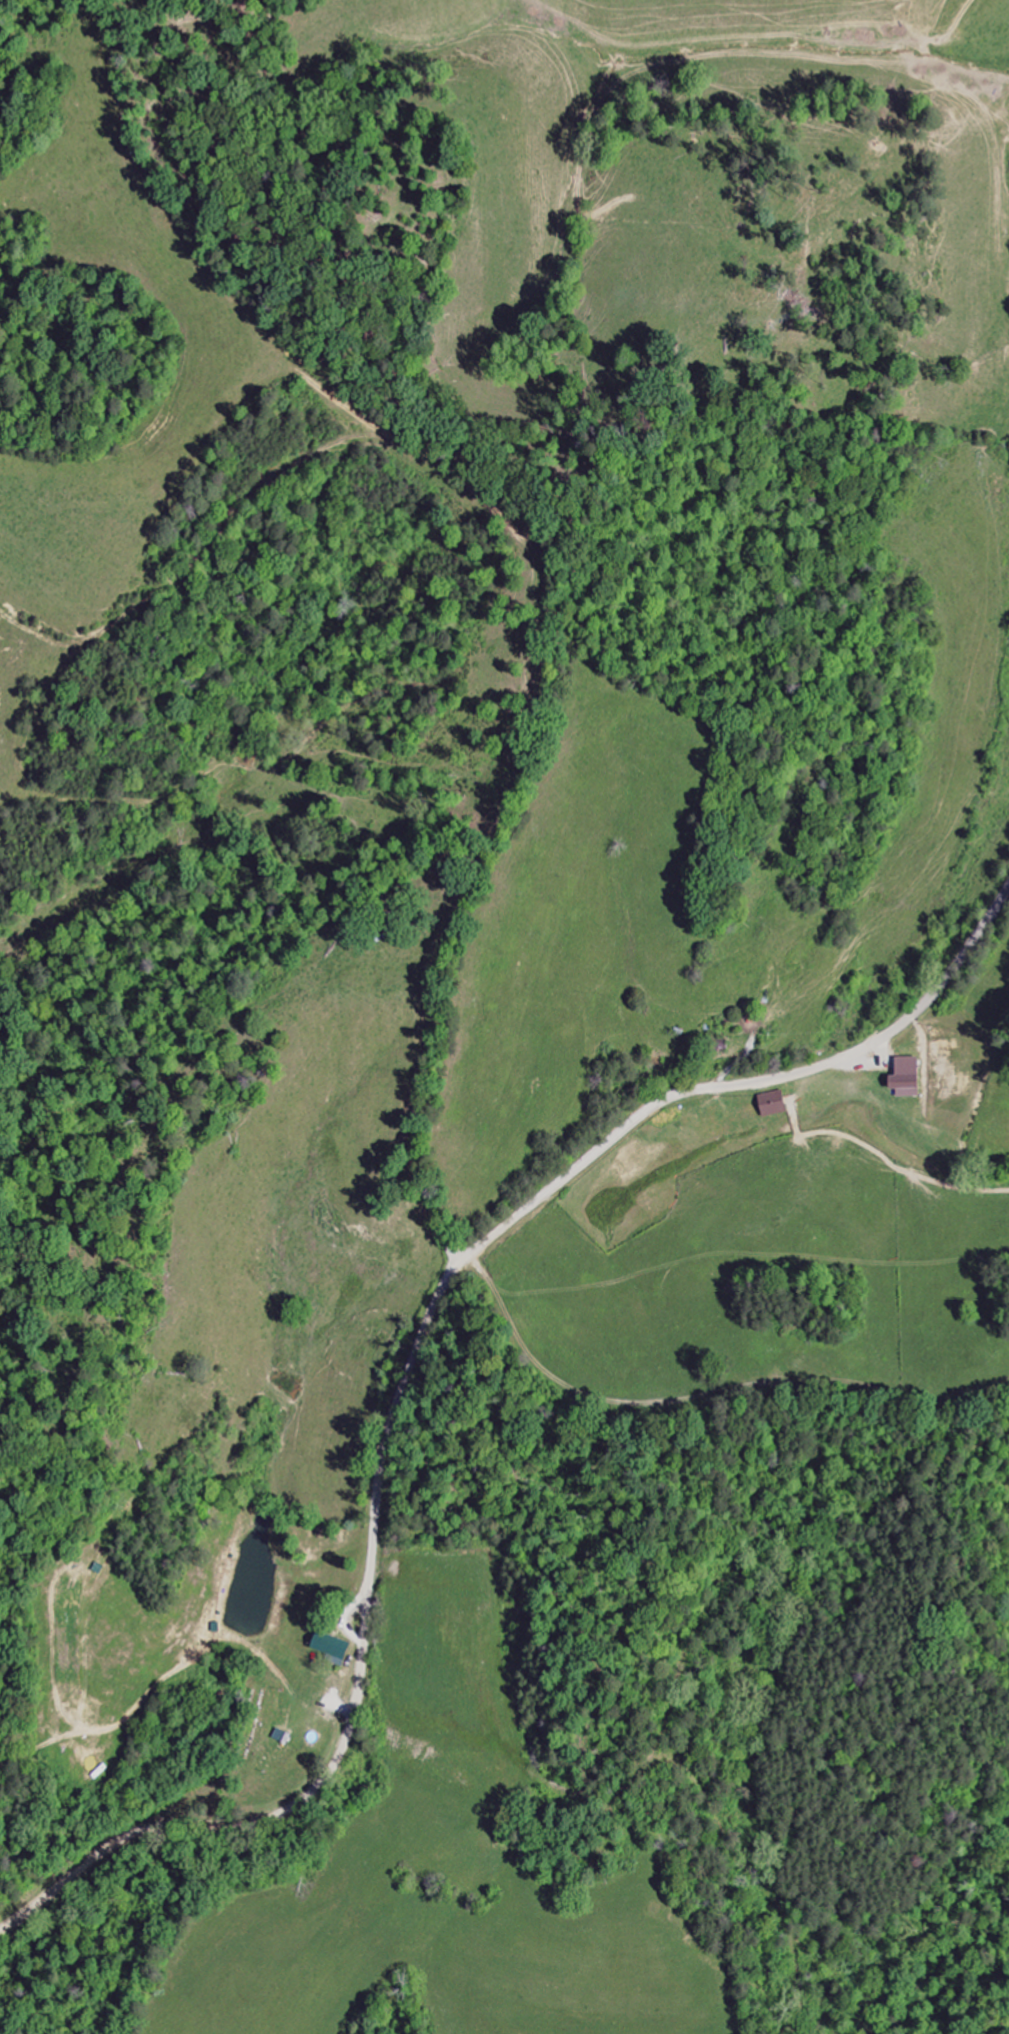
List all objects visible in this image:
building: (903, 1076)
building: (769, 1103)
road: (409, 1360)
building: (328, 1646)
building: (277, 1735)

